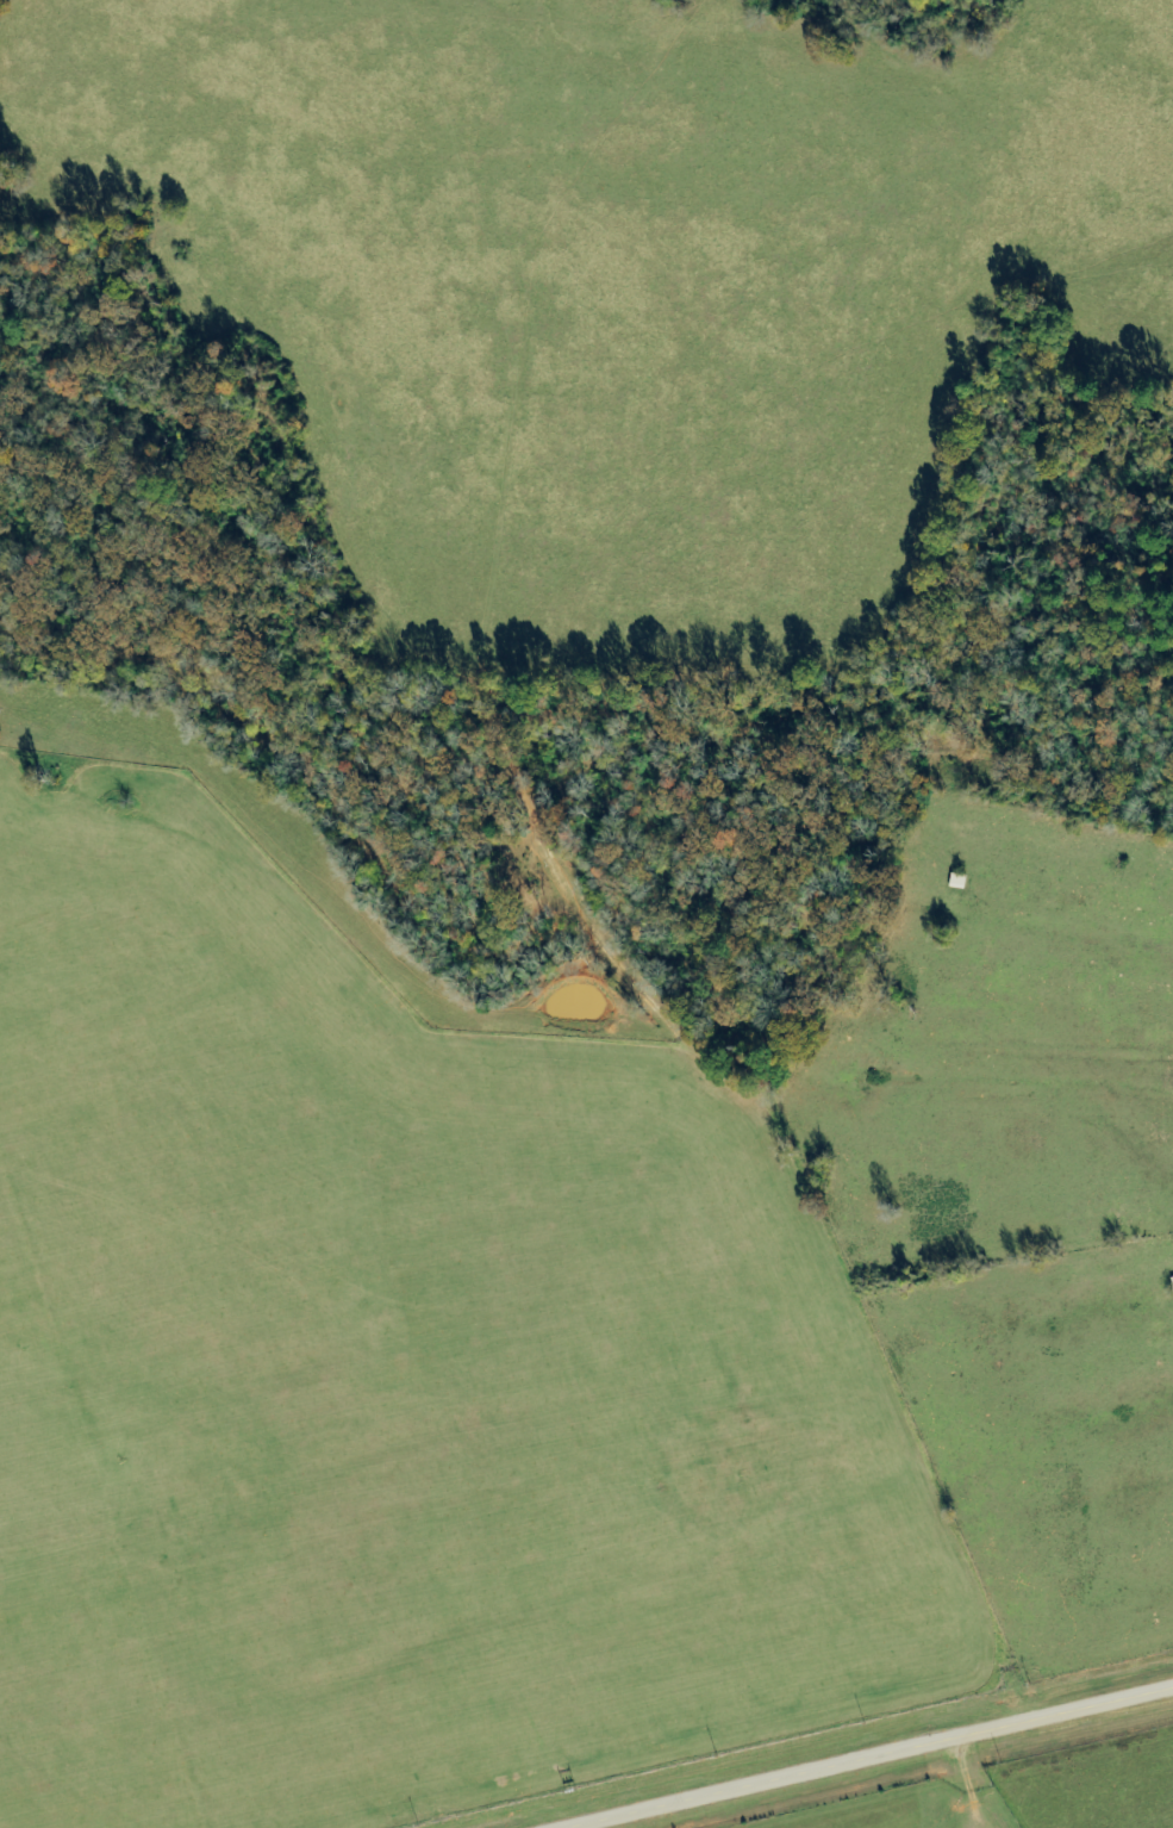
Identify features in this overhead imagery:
road: (872, 1758)

